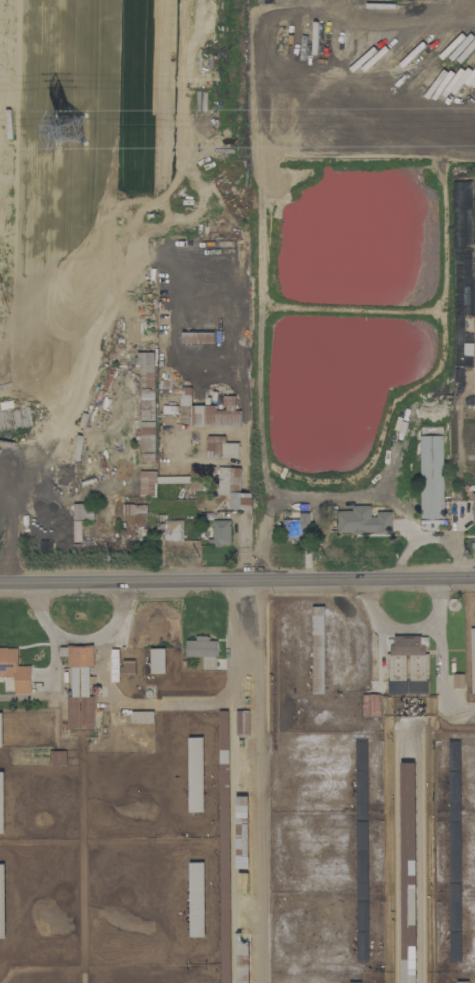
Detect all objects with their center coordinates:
road: (473, 7)
road: (396, 15)
power tower: (71, 129)
building: (146, 406)
building: (207, 412)
building: (220, 447)
building: (200, 471)
building: (430, 482)
building: (147, 483)
building: (232, 487)
building: (473, 508)
building: (82, 511)
building: (133, 511)
building: (362, 521)
building: (297, 527)
building: (173, 530)
building: (220, 532)
road: (237, 582)
road: (409, 627)
road: (86, 640)
building: (407, 645)
building: (200, 647)
building: (317, 649)
building: (472, 658)
building: (157, 660)
building: (208, 663)
building: (14, 670)
road: (447, 672)
building: (457, 681)
road: (52, 683)
building: (79, 686)
road: (179, 704)
building: (371, 705)
building: (143, 717)
building: (242, 722)
building: (0, 730)
building: (195, 774)
road: (263, 782)
building: (1, 803)
building: (241, 832)
building: (224, 846)
building: (408, 872)
building: (196, 899)
building: (2, 902)
building: (355, 982)
building: (462, 982)

